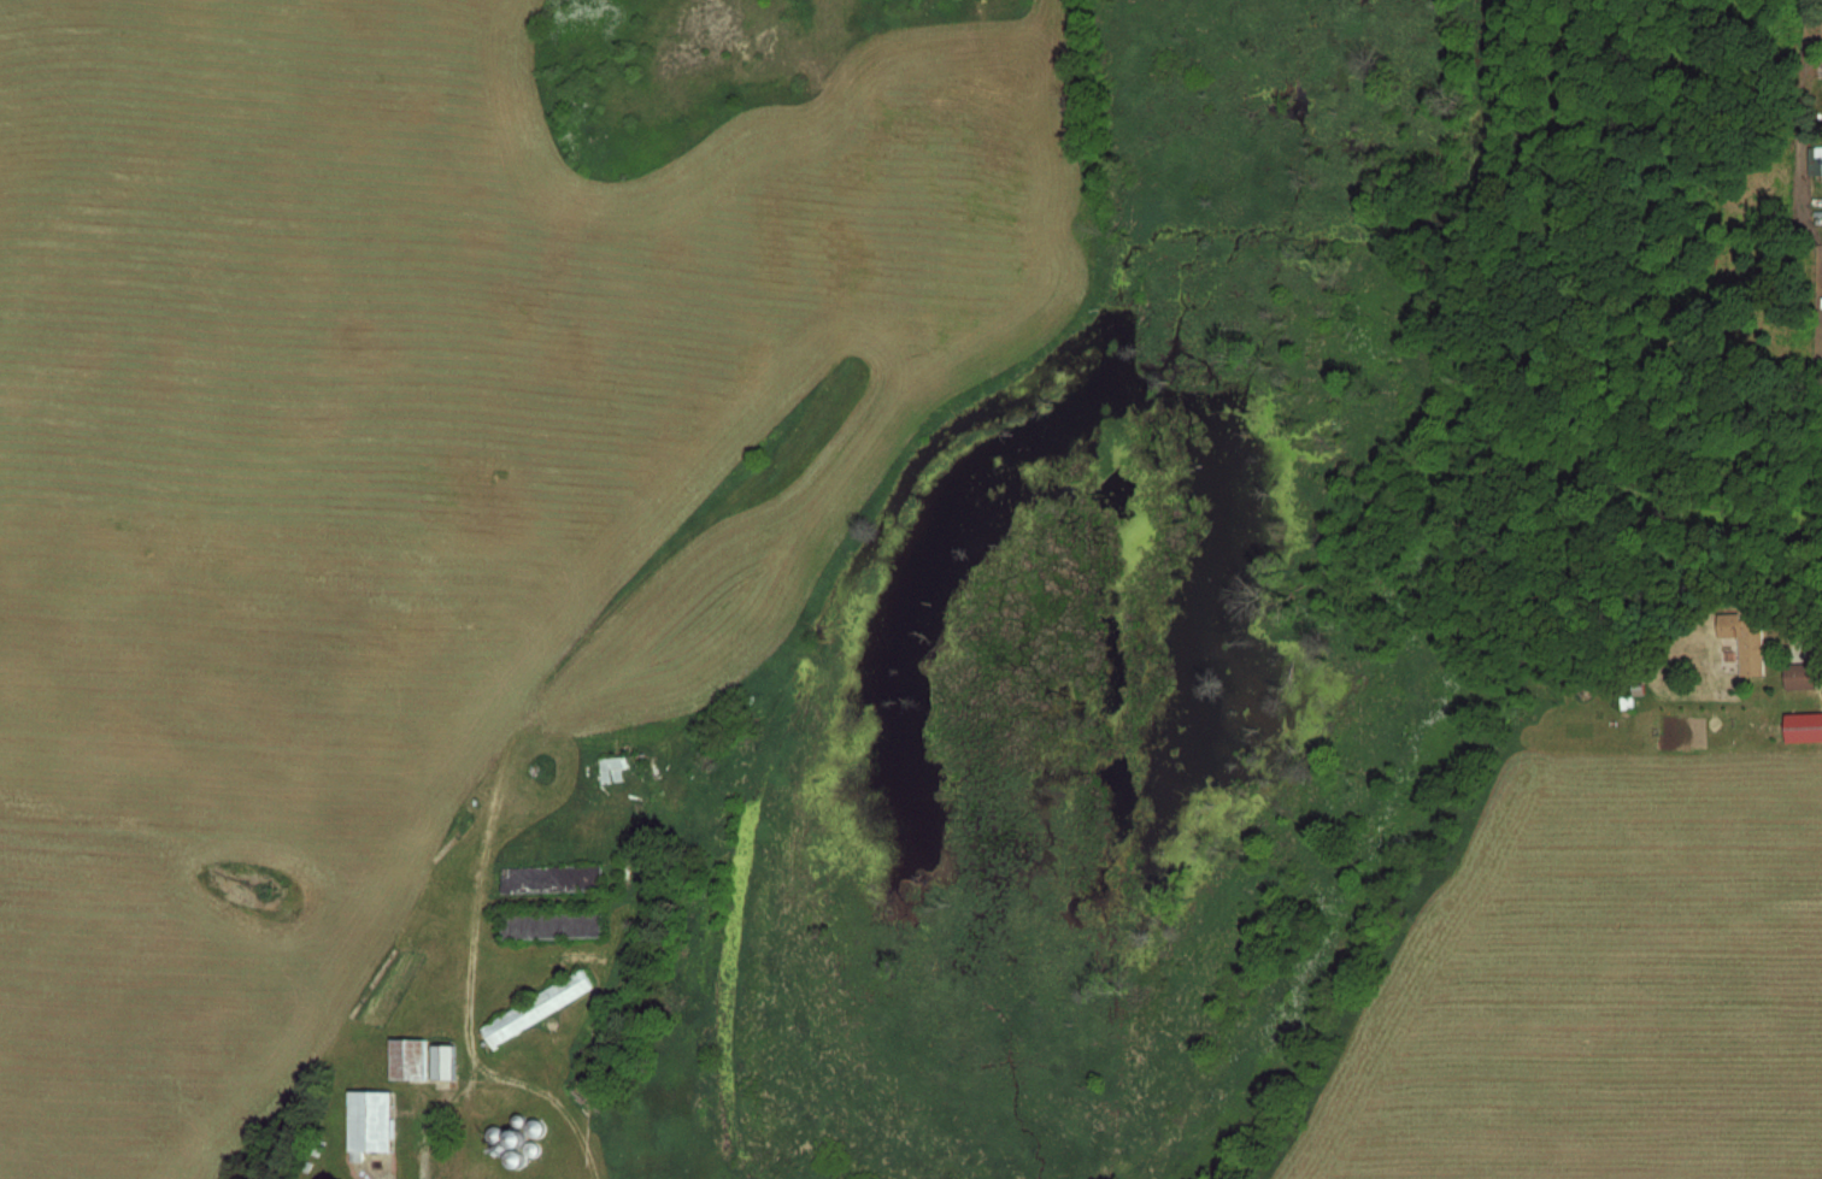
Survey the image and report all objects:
building: (1818, 159)
crop: (418, 472)
building: (1747, 641)
road: (1803, 643)
building: (1800, 674)
building: (1804, 725)
building: (613, 767)
building: (552, 878)
building: (553, 922)
building: (537, 1006)
building: (409, 1056)
building: (443, 1060)
road: (512, 1075)
building: (371, 1119)
building: (535, 1126)

